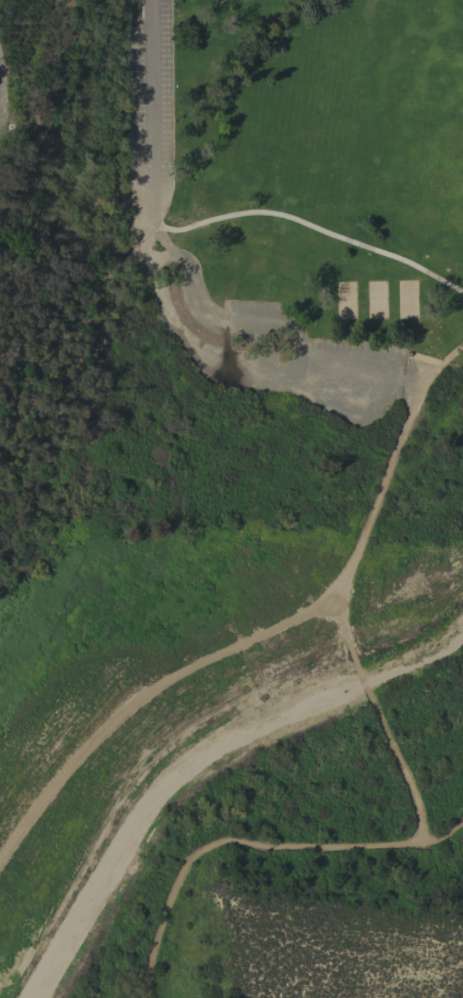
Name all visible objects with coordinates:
parking lot: (151, 98)
road: (148, 113)
road: (305, 225)
road: (161, 238)
road: (142, 246)
road: (295, 332)
road: (441, 364)
road: (300, 368)
road: (214, 369)
road: (405, 381)
park: (226, 478)
road: (378, 491)
road: (141, 705)
road: (380, 721)
road: (443, 836)
road: (229, 840)

